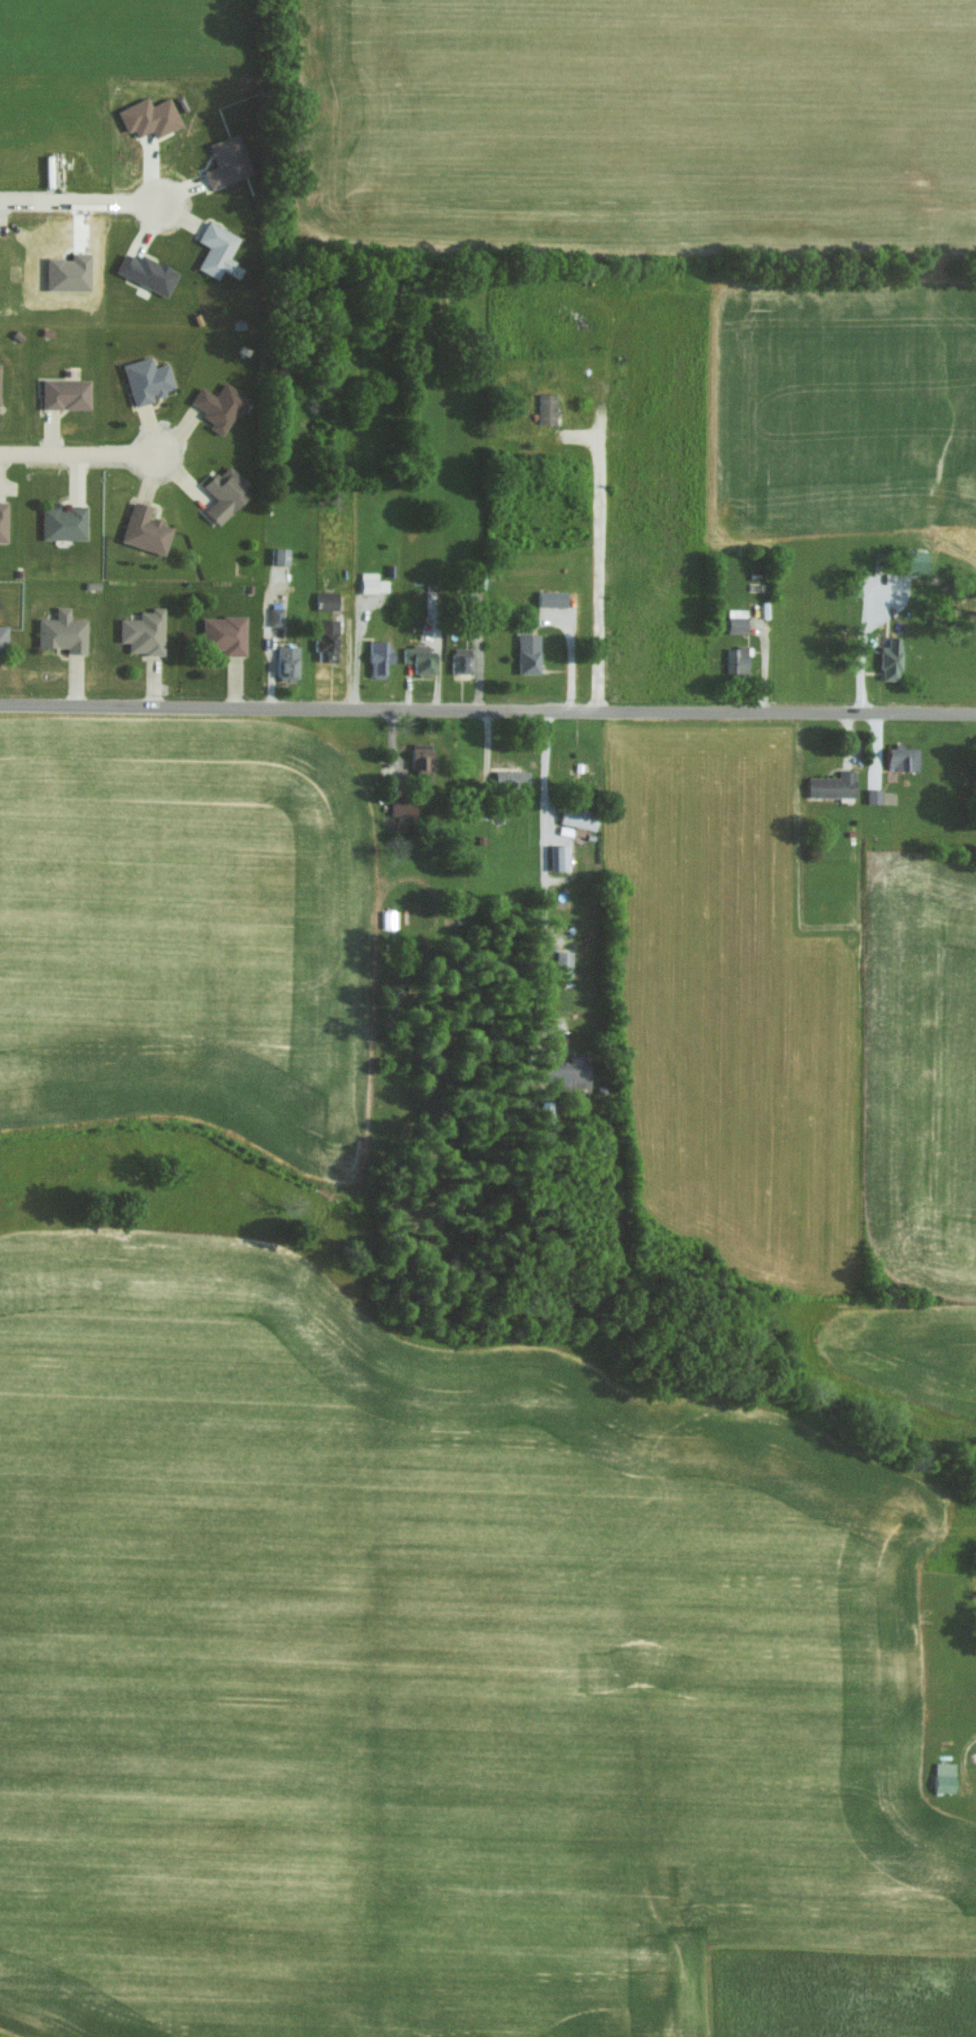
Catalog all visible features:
building: (148, 117)
building: (226, 161)
road: (80, 200)
building: (216, 250)
building: (68, 273)
building: (146, 273)
building: (146, 379)
building: (65, 393)
building: (219, 406)
building: (546, 407)
road: (80, 453)
building: (224, 493)
building: (3, 520)
building: (63, 522)
building: (145, 529)
road: (598, 543)
building: (279, 555)
building: (907, 561)
building: (371, 582)
building: (551, 598)
building: (326, 600)
building: (274, 616)
building: (732, 620)
road: (866, 630)
building: (61, 631)
building: (143, 631)
building: (224, 634)
building: (3, 637)
building: (326, 639)
building: (528, 653)
building: (379, 656)
building: (419, 658)
building: (461, 659)
building: (884, 659)
building: (731, 660)
building: (287, 662)
road: (488, 711)
building: (420, 756)
building: (896, 757)
building: (511, 777)
building: (826, 785)
building: (402, 806)
building: (578, 817)
building: (558, 857)
road: (542, 883)
building: (564, 963)
building: (568, 1072)
road: (966, 1754)
building: (943, 1776)

